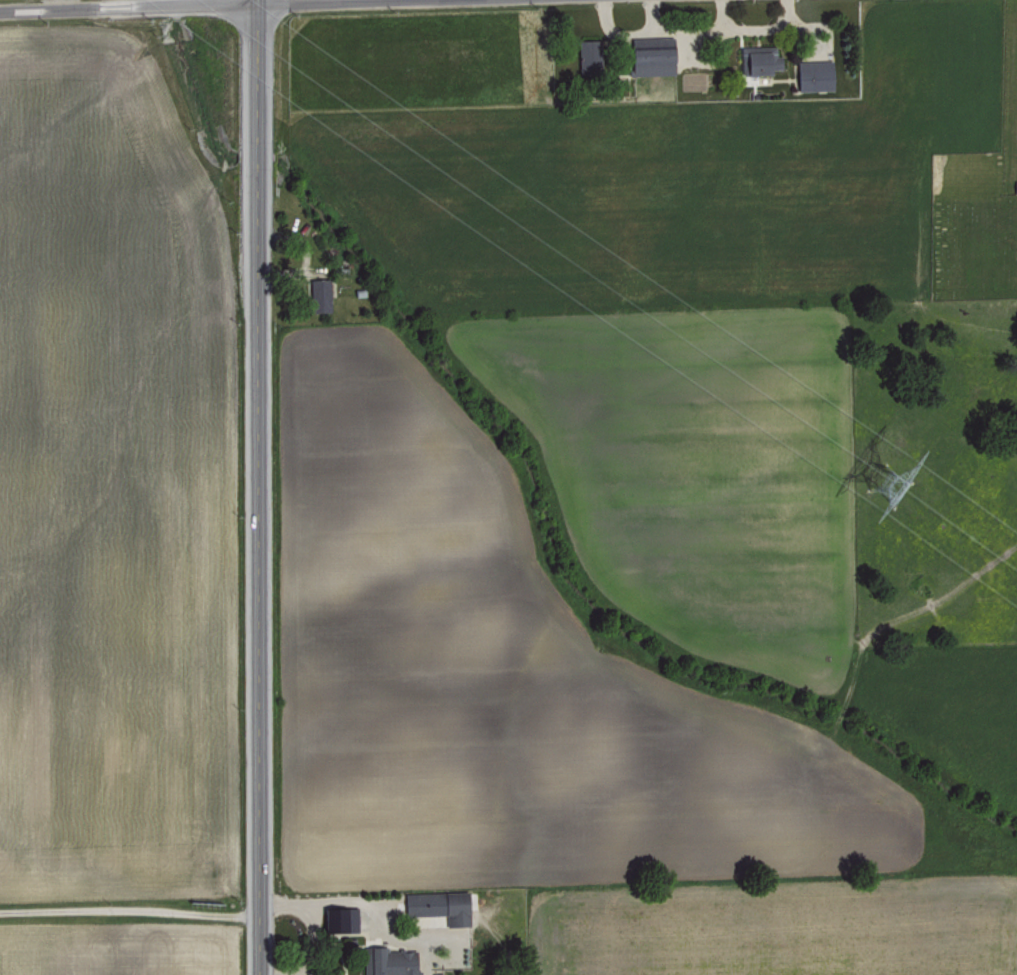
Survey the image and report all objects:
road: (144, 5)
building: (650, 59)
building: (761, 59)
building: (813, 74)
building: (1015, 185)
building: (318, 294)
road: (256, 487)
power tower: (888, 502)
building: (435, 907)
road: (128, 910)
building: (339, 919)
building: (391, 961)
road: (299, 973)

